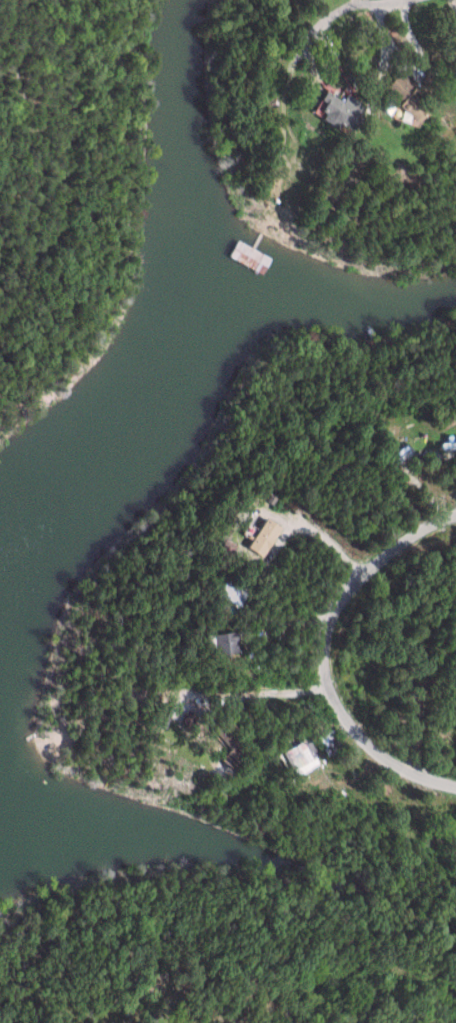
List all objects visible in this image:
road: (285, 55)
building: (407, 96)
building: (340, 111)
road: (311, 526)
building: (263, 537)
building: (230, 592)
building: (226, 642)
road: (322, 650)
road: (251, 681)
building: (298, 757)

